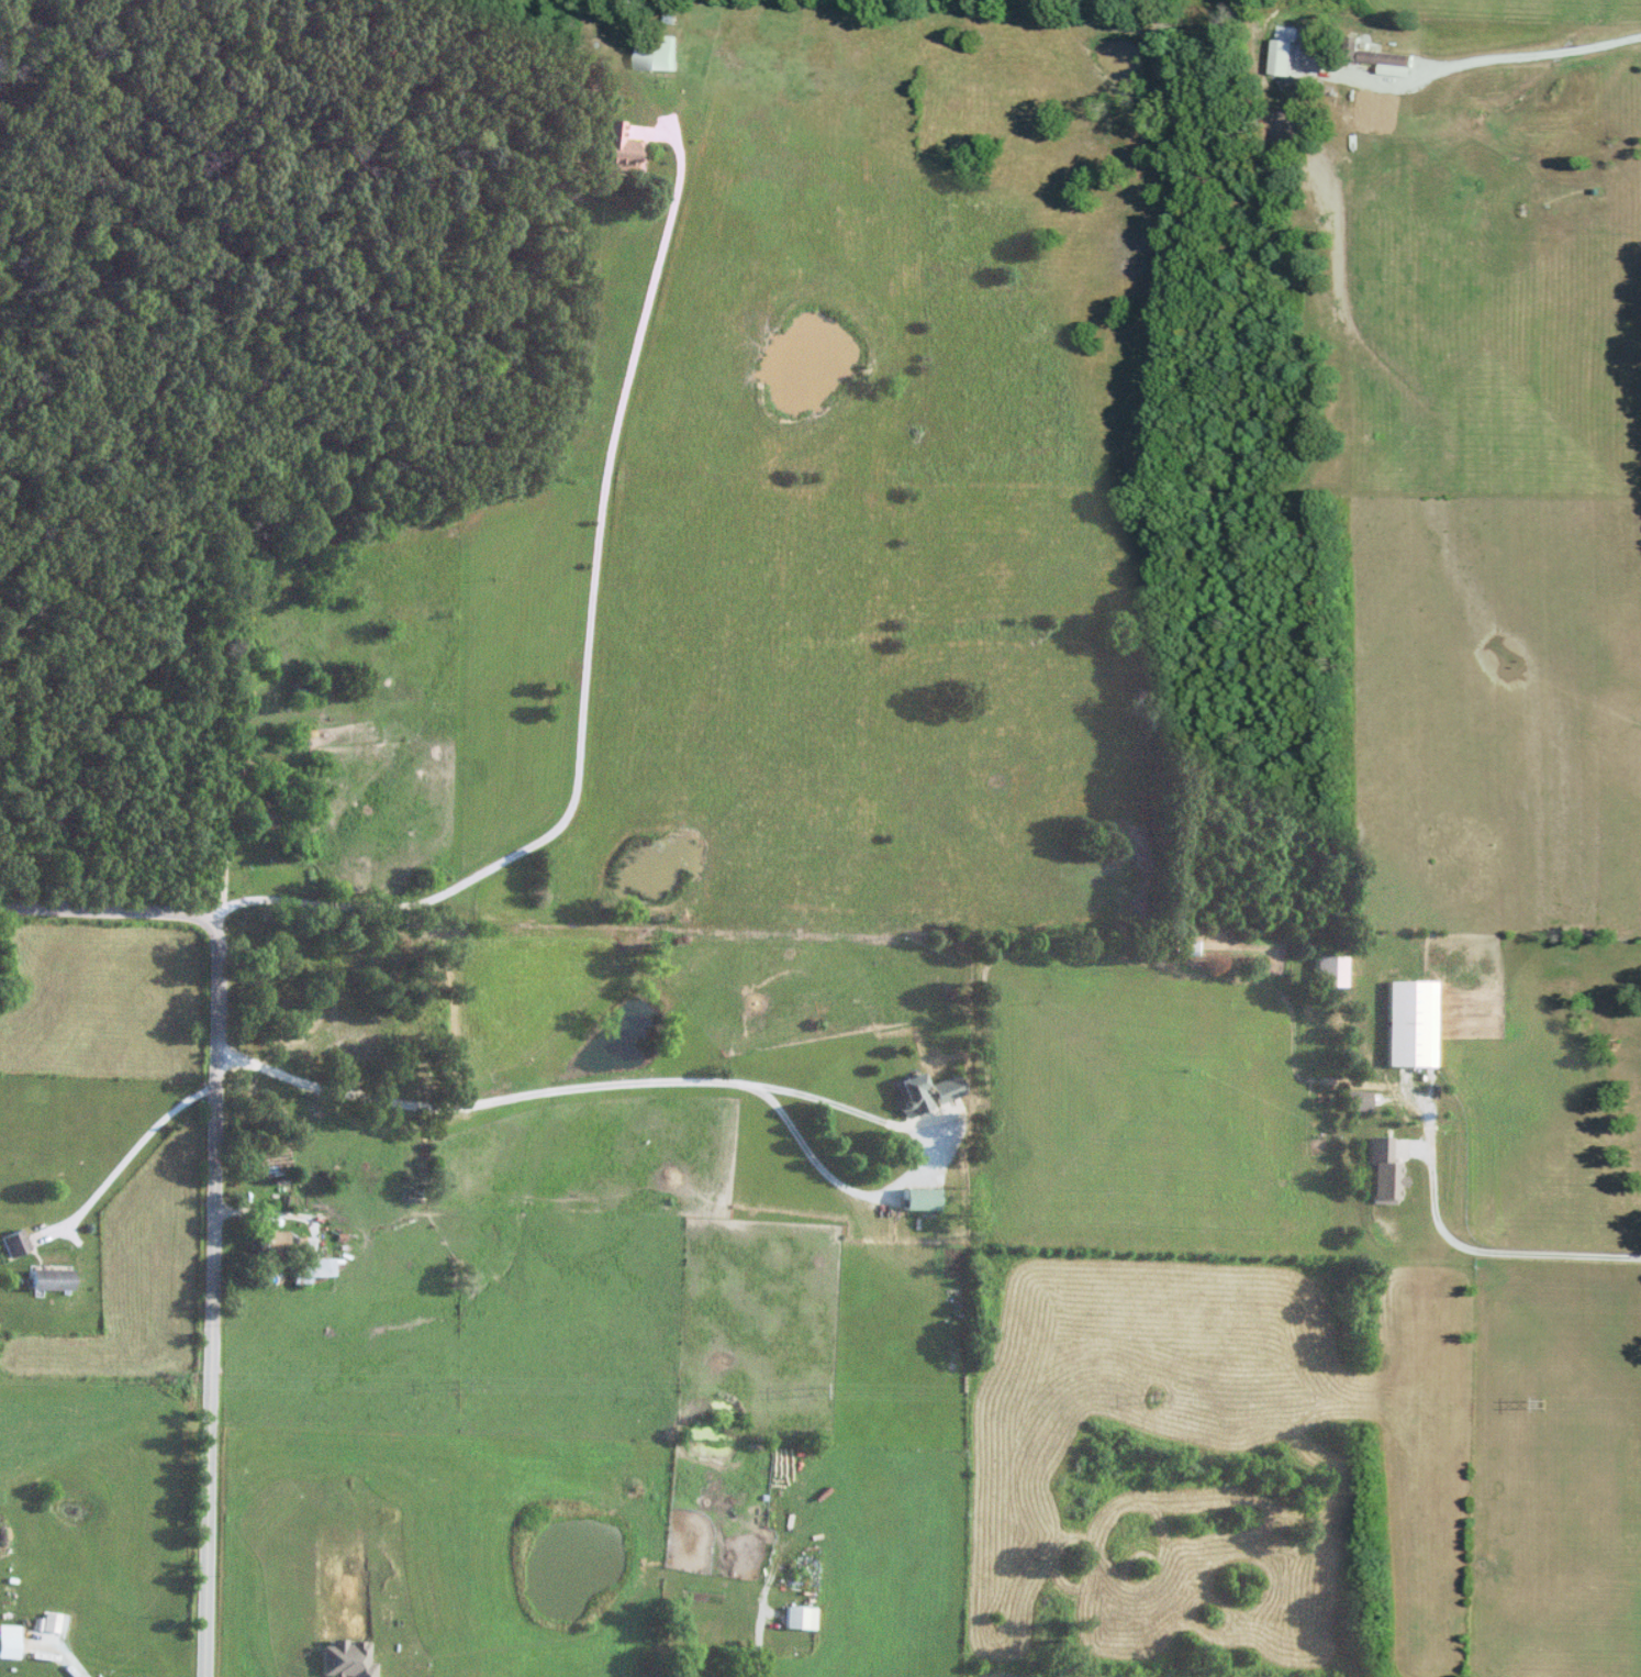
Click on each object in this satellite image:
building: (1350, 51)
building: (660, 52)
road: (1496, 55)
building: (1281, 57)
building: (1386, 58)
building: (613, 147)
road: (583, 653)
building: (242, 762)
building: (263, 813)
road: (221, 864)
road: (107, 906)
building: (1328, 969)
building: (311, 1020)
road: (566, 1088)
building: (926, 1091)
road: (121, 1158)
building: (919, 1198)
building: (268, 1241)
building: (14, 1242)
road: (1484, 1250)
building: (309, 1268)
building: (48, 1278)
road: (211, 1297)
power tower: (177, 1371)
power tower: (834, 1382)
power tower: (1161, 1395)
power tower: (1553, 1402)
building: (800, 1617)
building: (9, 1641)
building: (713, 1676)

